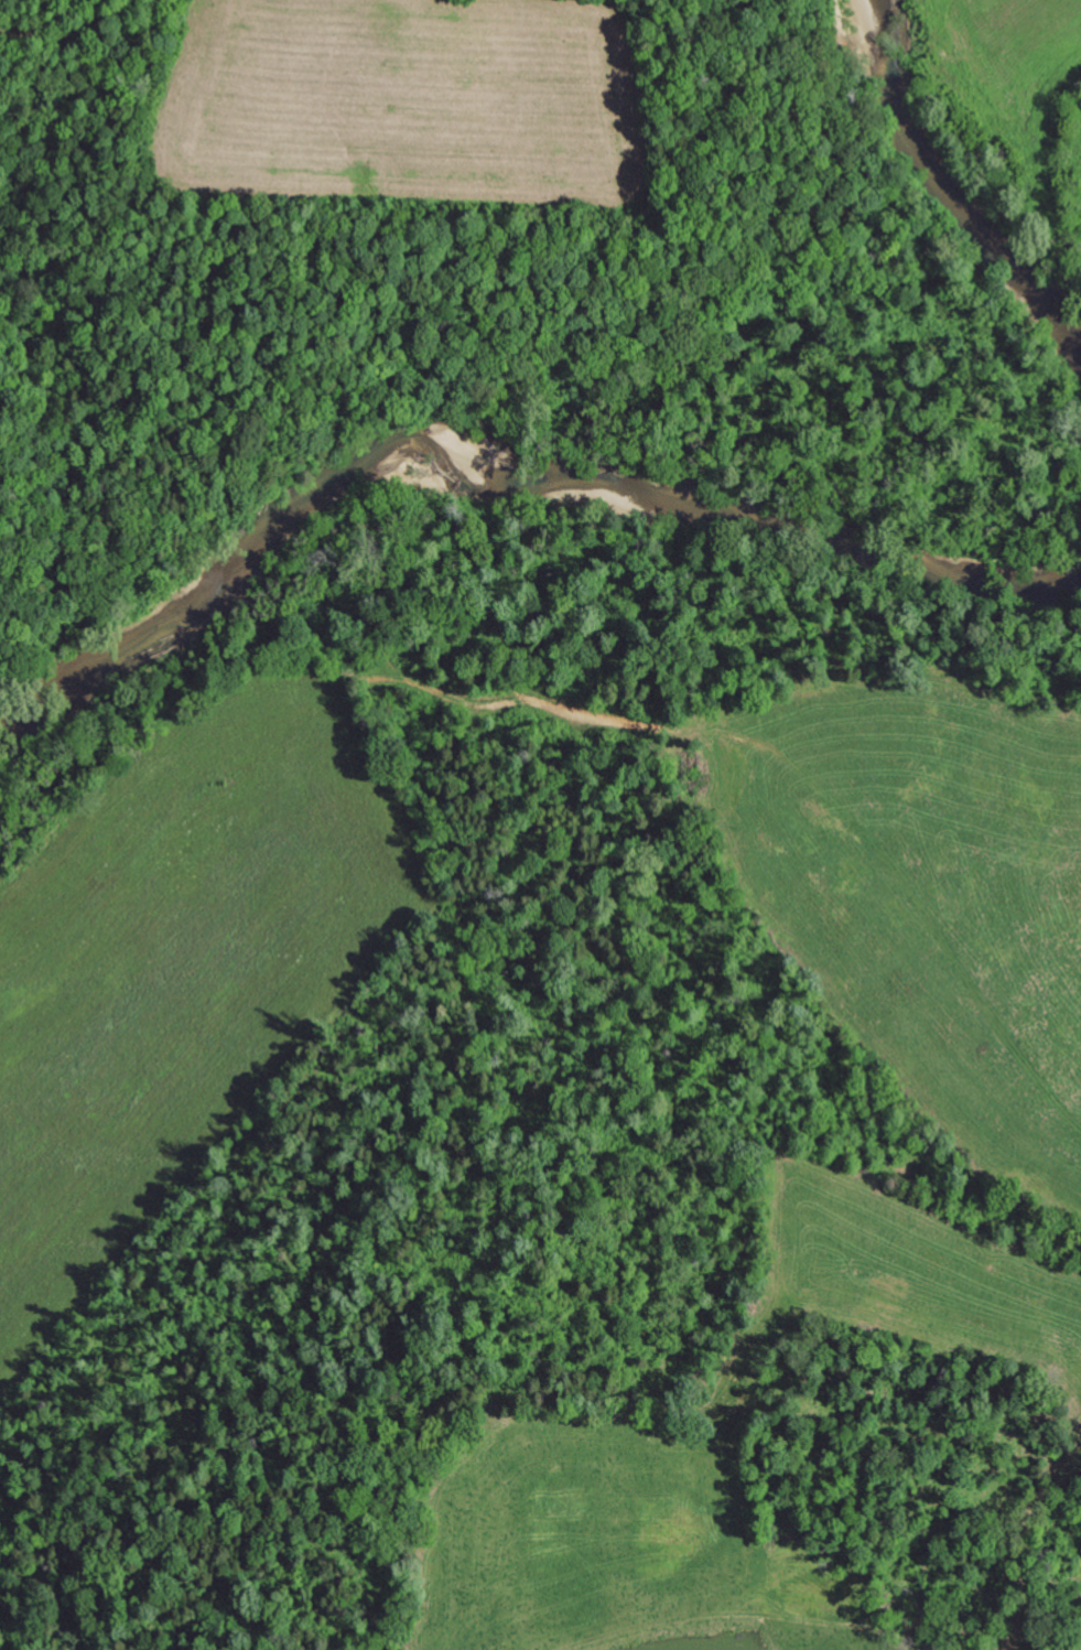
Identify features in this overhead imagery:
road: (636, 1101)

